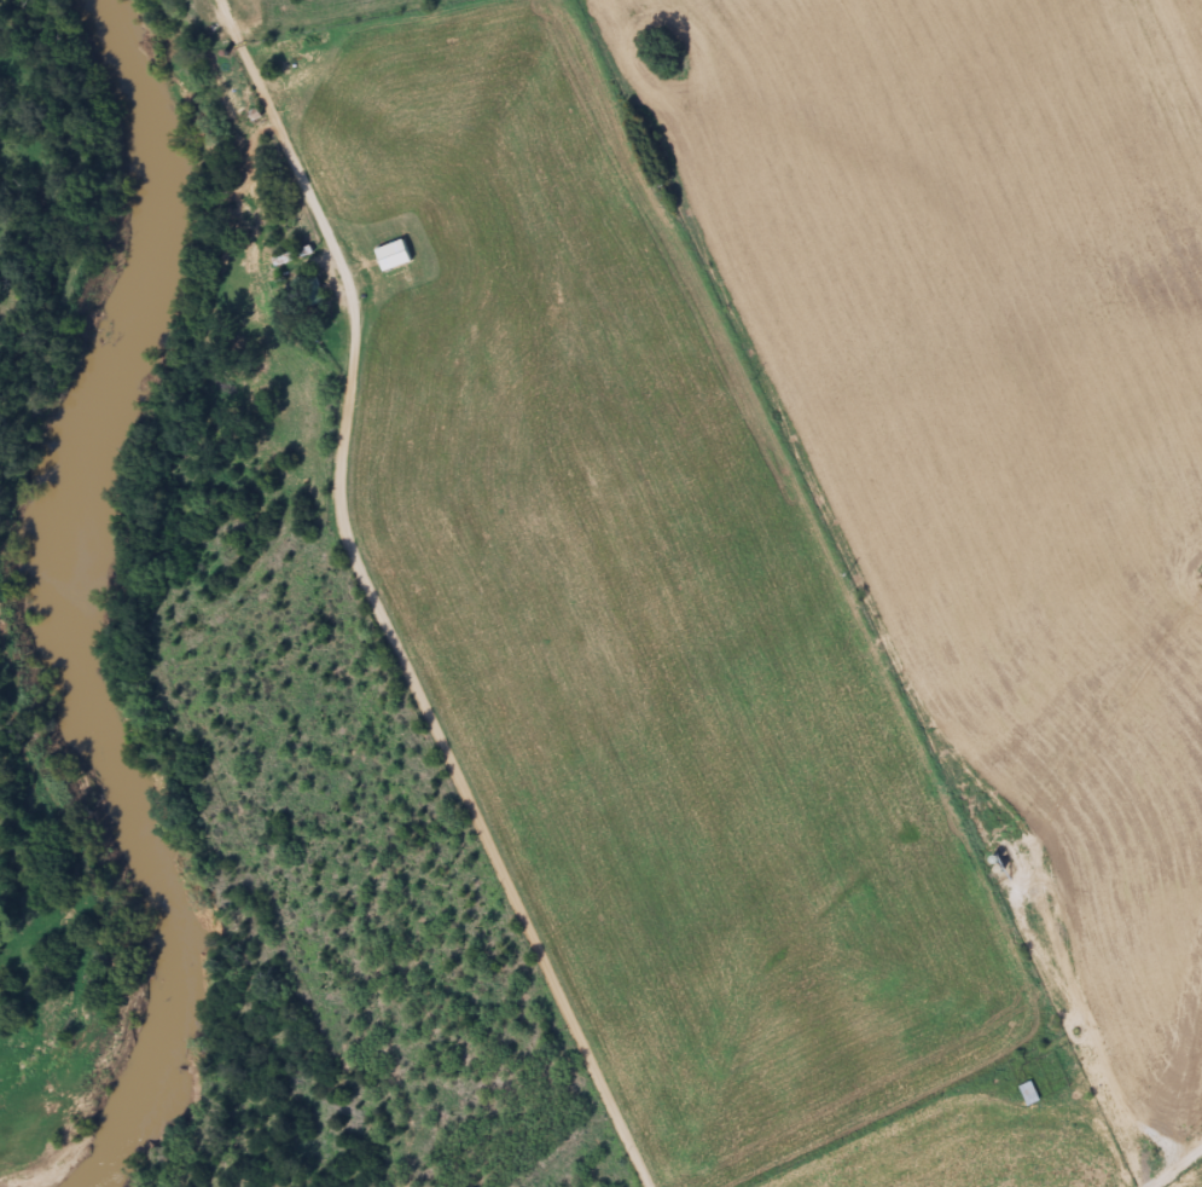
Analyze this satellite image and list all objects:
building: (313, 290)
river: (60, 601)
road: (451, 758)
building: (1029, 1095)

